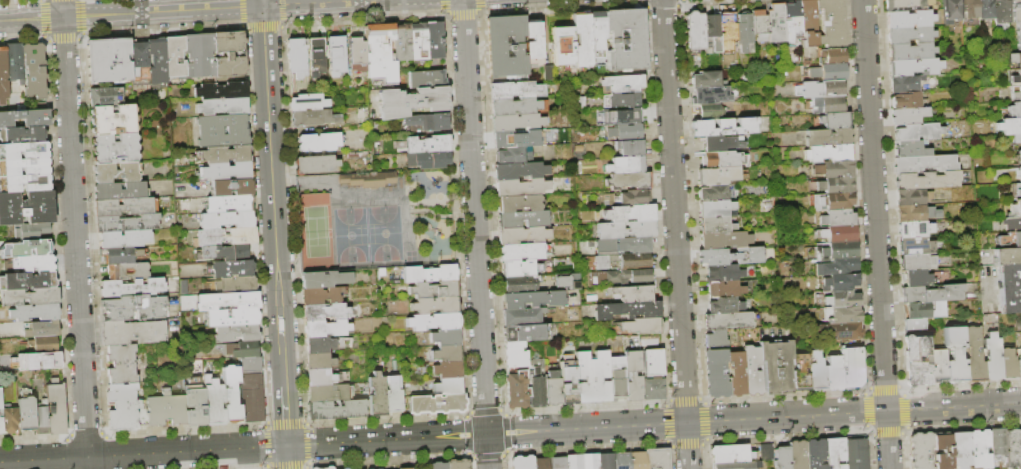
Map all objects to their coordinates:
road: (261, 3)
road: (312, 3)
building: (902, 5)
traffic signals: (262, 6)
building: (985, 9)
building: (970, 10)
building: (951, 11)
road: (130, 13)
building: (1001, 16)
building: (910, 17)
building: (791, 20)
building: (1017, 20)
building: (808, 22)
building: (829, 22)
building: (759, 24)
building: (776, 25)
building: (596, 29)
building: (694, 32)
building: (711, 32)
building: (727, 33)
building: (744, 33)
building: (909, 35)
building: (581, 39)
building: (624, 39)
building: (434, 40)
building: (418, 41)
building: (401, 42)
building: (532, 43)
building: (504, 46)
building: (562, 46)
building: (910, 51)
building: (379, 52)
building: (228, 53)
building: (357, 54)
building: (199, 55)
building: (335, 55)
building: (174, 56)
building: (316, 56)
building: (832, 56)
building: (295, 58)
building: (107, 60)
building: (138, 60)
building: (1015, 60)
building: (157, 61)
building: (13, 62)
building: (913, 67)
building: (34, 71)
building: (546, 72)
building: (828, 72)
building: (3, 77)
building: (1014, 78)
building: (425, 79)
building: (707, 80)
building: (904, 83)
building: (622, 84)
building: (223, 88)
building: (820, 89)
building: (515, 90)
building: (1015, 93)
building: (712, 95)
building: (105, 96)
building: (621, 100)
building: (411, 101)
building: (908, 101)
building: (306, 102)
building: (824, 104)
building: (222, 106)
building: (516, 106)
building: (710, 111)
building: (1010, 111)
building: (907, 115)
building: (362, 116)
building: (621, 116)
building: (25, 118)
building: (312, 118)
building: (113, 120)
building: (834, 120)
building: (427, 121)
building: (515, 122)
building: (1008, 126)
building: (723, 127)
building: (210, 131)
building: (916, 131)
building: (625, 132)
building: (21, 134)
building: (827, 137)
building: (1016, 138)
building: (516, 139)
building: (317, 142)
building: (724, 143)
building: (426, 144)
building: (375, 145)
building: (629, 147)
building: (911, 148)
building: (114, 149)
building: (23, 150)
building: (828, 153)
building: (224, 154)
building: (1017, 154)
building: (513, 155)
building: (342, 157)
building: (427, 159)
building: (721, 159)
building: (313, 164)
building: (924, 164)
building: (625, 165)
building: (24, 167)
building: (519, 170)
building: (830, 170)
building: (226, 171)
building: (116, 172)
building: (1018, 173)
building: (719, 175)
building: (367, 180)
building: (627, 180)
building: (926, 180)
building: (24, 183)
building: (832, 185)
building: (231, 187)
building: (520, 187)
building: (1017, 189)
building: (120, 190)
building: (717, 192)
building: (912, 197)
building: (627, 198)
building: (830, 201)
building: (229, 203)
building: (518, 203)
building: (124, 206)
building: (26, 208)
building: (716, 208)
building: (1014, 209)
building: (629, 213)
building: (915, 213)
building: (836, 218)
building: (522, 219)
building: (226, 220)
park: (373, 220)
building: (126, 223)
building: (1010, 224)
road: (274, 225)
building: (715, 225)
building: (625, 229)
building: (913, 229)
building: (31, 231)
park: (314, 233)
road: (74, 234)
road: (475, 234)
road: (675, 234)
building: (837, 234)
road: (875, 234)
park: (366, 235)
building: (523, 235)
building: (226, 236)
building: (117, 239)
building: (1010, 239)
building: (723, 240)
building: (623, 246)
building: (914, 246)
building: (26, 248)
building: (525, 251)
building: (832, 251)
building: (234, 252)
building: (119, 255)
building: (730, 256)
building: (1006, 256)
building: (622, 262)
building: (917, 262)
building: (30, 264)
building: (836, 267)
building: (231, 268)
building: (520, 268)
building: (127, 271)
building: (729, 272)
building: (429, 273)
building: (621, 277)
building: (917, 278)
building: (324, 279)
building: (27, 281)
building: (568, 281)
building: (840, 283)
building: (235, 284)
building: (519, 284)
building: (131, 288)
building: (1009, 288)
building: (433, 289)
building: (723, 289)
building: (632, 293)
building: (931, 294)
building: (320, 295)
building: (29, 297)
building: (532, 299)
building: (842, 299)
building: (227, 300)
building: (434, 305)
building: (723, 305)
building: (132, 308)
building: (626, 310)
building: (923, 310)
building: (327, 311)
building: (34, 312)
building: (841, 315)
building: (523, 316)
building: (232, 317)
building: (729, 320)
building: (433, 321)
building: (913, 323)
building: (642, 326)
building: (324, 328)
building: (41, 329)
building: (132, 332)
building: (524, 332)
building: (837, 332)
building: (235, 333)
building: (445, 336)
building: (714, 339)
building: (648, 341)
building: (43, 344)
building: (321, 344)
building: (240, 349)
building: (446, 353)
building: (514, 354)
building: (954, 354)
building: (973, 355)
building: (991, 357)
building: (916, 360)
building: (41, 361)
building: (318, 361)
building: (650, 362)
building: (1007, 363)
building: (121, 364)
building: (249, 364)
building: (937, 365)
building: (1018, 366)
building: (852, 367)
building: (775, 368)
building: (447, 369)
building: (751, 371)
building: (815, 371)
building: (800, 372)
building: (715, 373)
building: (832, 373)
building: (736, 374)
building: (591, 376)
building: (632, 376)
building: (321, 377)
building: (616, 378)
building: (567, 380)
building: (536, 385)
building: (447, 386)
building: (652, 387)
building: (551, 389)
building: (516, 390)
building: (326, 393)
building: (393, 393)
building: (231, 394)
building: (377, 394)
building: (252, 397)
building: (213, 401)
building: (0, 402)
building: (194, 402)
building: (436, 403)
building: (55, 408)
building: (125, 408)
building: (166, 409)
building: (335, 409)
building: (25, 411)
building: (40, 417)
building: (9, 420)
building: (1, 426)
road: (510, 432)
traffic signals: (287, 445)
building: (998, 445)
building: (1013, 448)
building: (921, 450)
building: (961, 450)
building: (980, 450)
building: (943, 451)
building: (767, 452)
building: (835, 452)
building: (816, 453)
building: (732, 454)
building: (856, 454)
building: (798, 455)
road: (287, 457)
building: (783, 457)
building: (657, 458)
building: (637, 460)
building: (574, 461)
building: (590, 461)
building: (607, 461)
building: (622, 461)
building: (522, 462)
building: (541, 463)
building: (558, 463)
building: (458, 464)
building: (439, 465)
building: (740, 465)
building: (313, 468)
building: (328, 468)
building: (377, 468)
building: (406, 468)

